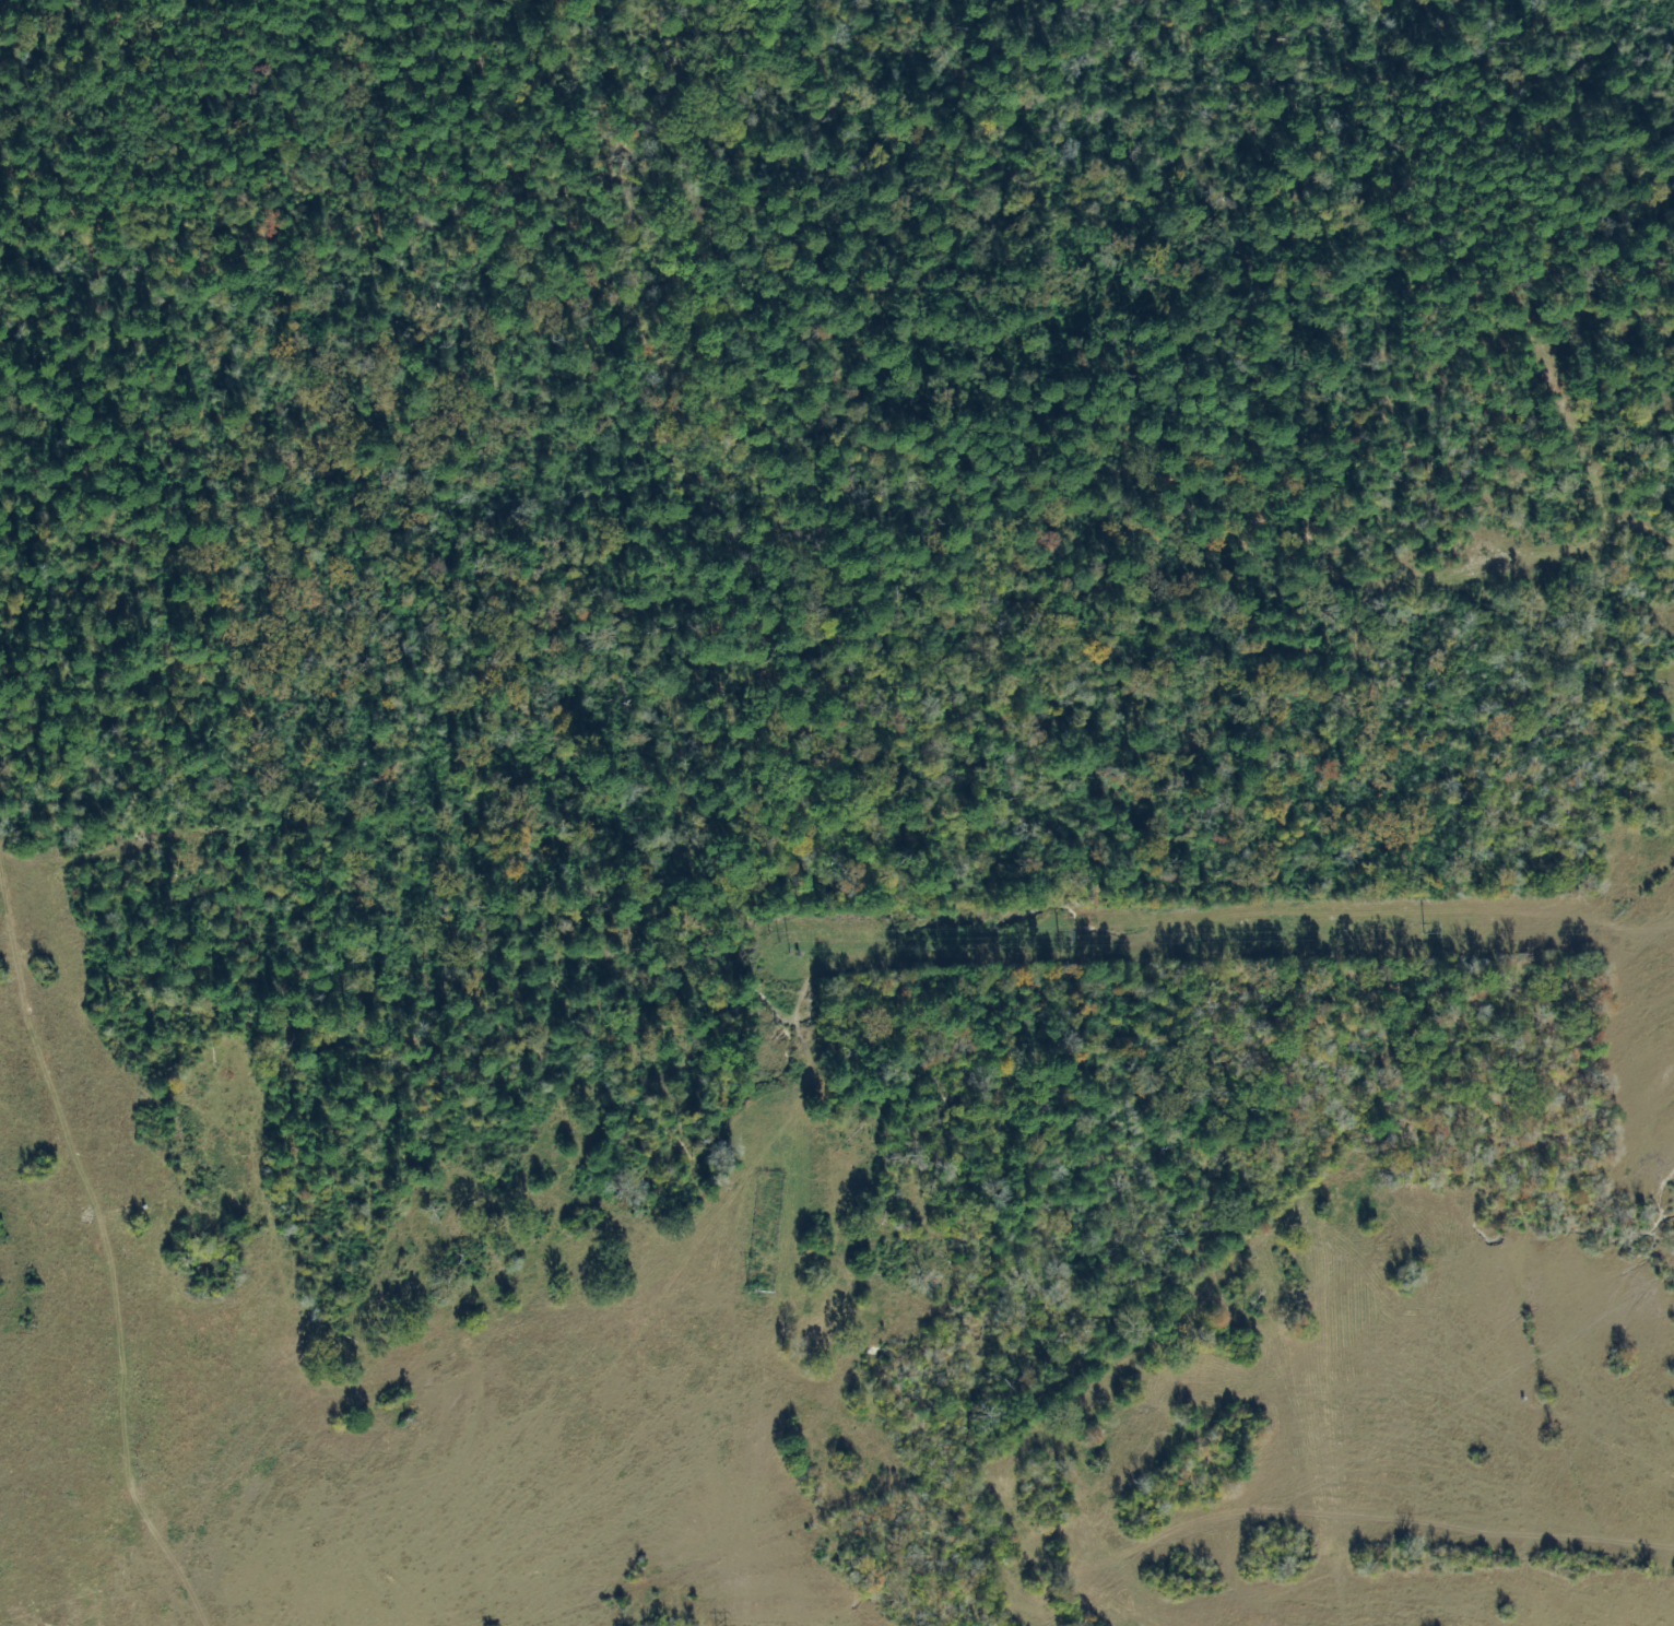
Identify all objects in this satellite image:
power tower: (1420, 926)
power tower: (1051, 934)
power tower: (780, 947)
power tower: (751, 1292)

